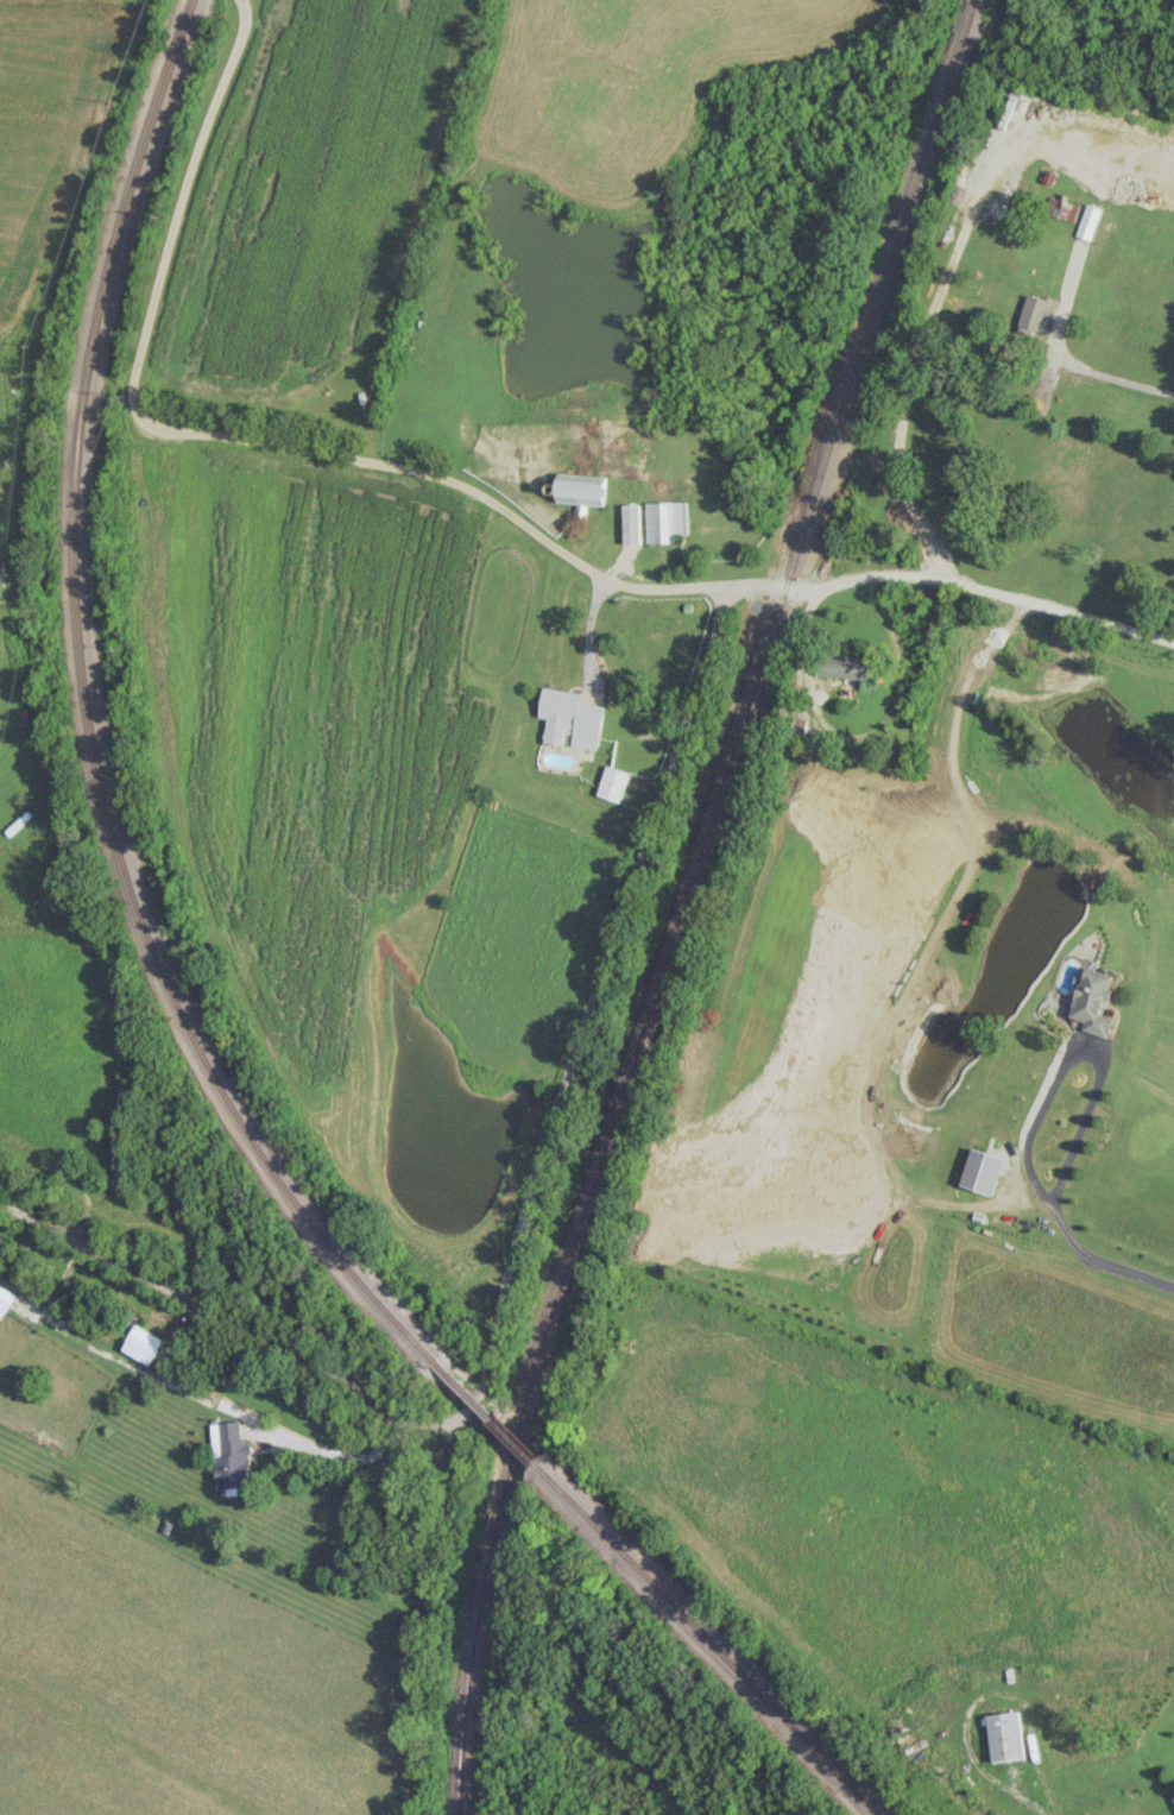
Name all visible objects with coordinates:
building: (1035, 313)
road: (920, 351)
road: (1119, 383)
road: (234, 437)
building: (582, 491)
building: (631, 518)
building: (665, 521)
building: (844, 666)
railway: (86, 719)
building: (569, 719)
building: (612, 783)
railway: (681, 899)
building: (1092, 1001)
road: (577, 1032)
road: (1078, 1047)
building: (980, 1171)
road: (1103, 1260)
building: (4, 1299)
building: (141, 1344)
road: (220, 1403)
railway: (481, 1413)
building: (231, 1456)
railway: (703, 1641)
building: (1004, 1737)
building: (1173, 1796)
road: (1040, 1804)

